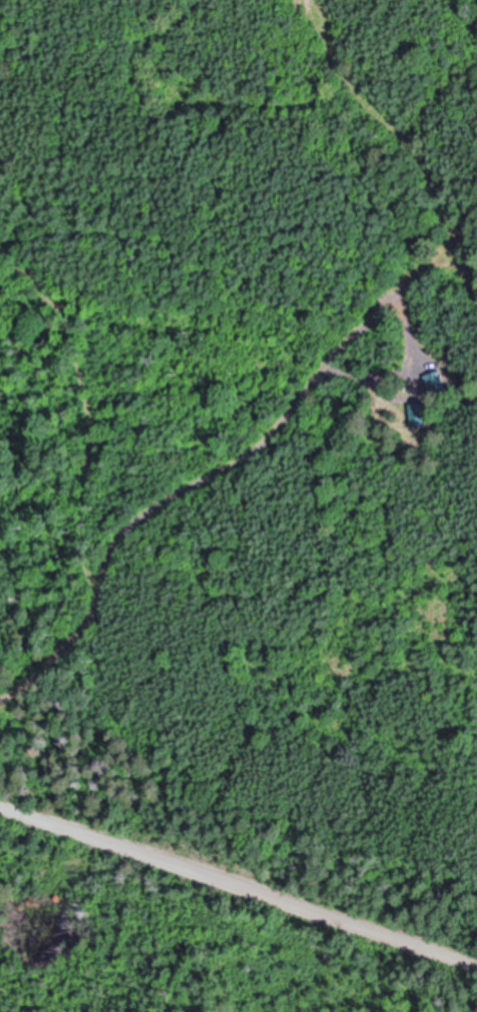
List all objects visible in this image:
road: (238, 889)

